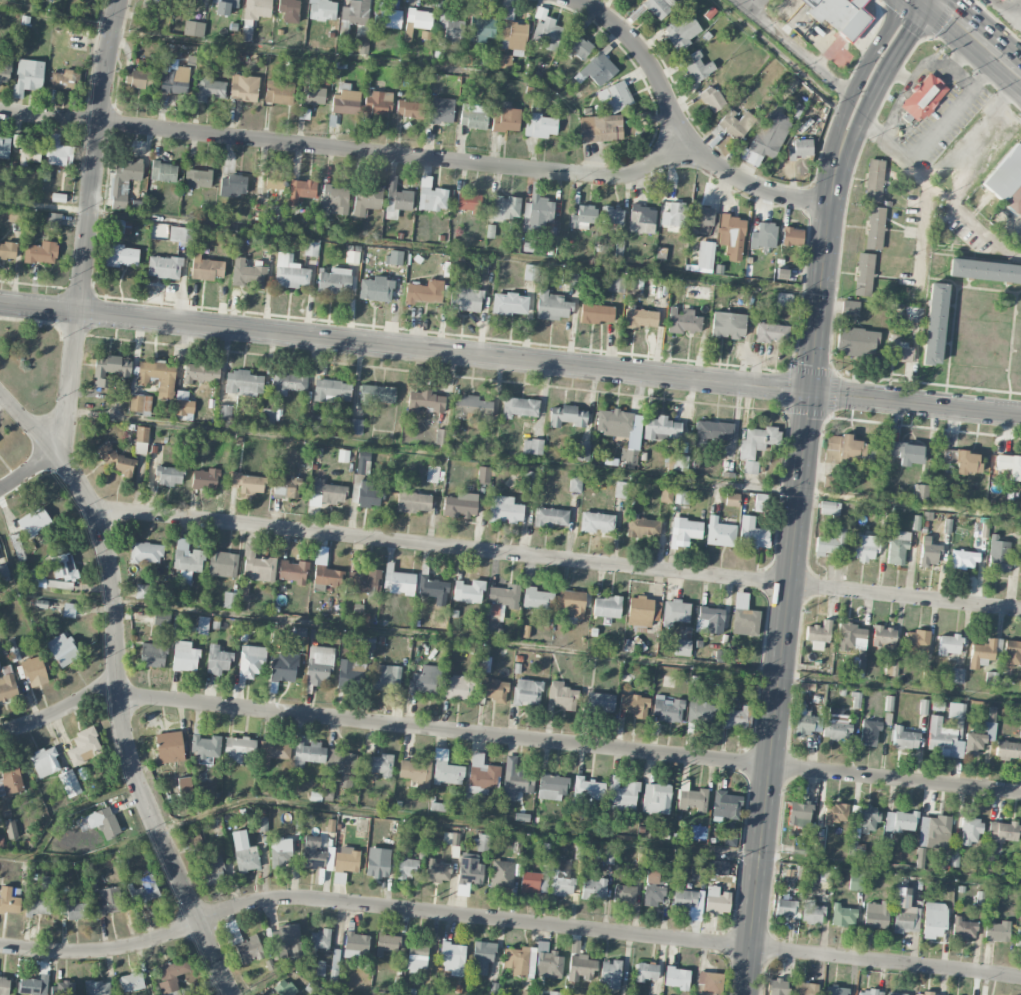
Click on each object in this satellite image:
building: (155, 0)
building: (186, 3)
road: (911, 3)
building: (224, 6)
building: (659, 7)
building: (257, 9)
building: (289, 10)
building: (322, 10)
building: (355, 13)
building: (839, 15)
building: (387, 19)
building: (417, 22)
building: (449, 24)
building: (193, 28)
building: (485, 29)
building: (246, 30)
building: (681, 30)
building: (512, 33)
building: (547, 34)
road: (979, 36)
building: (361, 39)
building: (578, 45)
road: (788, 48)
road: (900, 54)
road: (366, 59)
building: (504, 61)
building: (697, 67)
road: (955, 69)
building: (5, 70)
building: (596, 70)
road: (913, 74)
building: (28, 77)
building: (138, 78)
building: (63, 79)
building: (174, 80)
road: (857, 83)
building: (244, 88)
building: (208, 89)
building: (279, 93)
building: (314, 96)
building: (616, 96)
building: (924, 97)
building: (712, 99)
building: (345, 100)
building: (378, 103)
road: (895, 107)
road: (954, 108)
building: (409, 109)
building: (441, 110)
building: (505, 118)
building: (473, 120)
building: (736, 123)
building: (540, 125)
building: (601, 128)
road: (677, 132)
building: (770, 134)
road: (857, 138)
building: (4, 147)
building: (801, 149)
road: (344, 150)
building: (29, 152)
building: (58, 152)
building: (163, 172)
building: (198, 178)
building: (124, 179)
building: (275, 180)
building: (1007, 180)
building: (874, 181)
building: (233, 185)
building: (301, 190)
road: (940, 191)
building: (431, 196)
building: (334, 199)
building: (396, 199)
building: (366, 200)
building: (468, 201)
building: (505, 207)
building: (14, 215)
building: (537, 215)
building: (612, 215)
building: (674, 216)
building: (703, 216)
building: (582, 217)
building: (642, 219)
building: (53, 220)
road: (87, 223)
building: (120, 226)
building: (875, 228)
building: (180, 234)
building: (732, 236)
building: (764, 236)
building: (792, 236)
road: (410, 245)
building: (530, 247)
building: (619, 248)
building: (311, 249)
building: (8, 250)
building: (41, 253)
building: (705, 255)
building: (121, 256)
building: (352, 257)
building: (394, 258)
building: (164, 267)
building: (206, 268)
building: (984, 271)
building: (289, 272)
building: (530, 273)
building: (248, 274)
building: (781, 274)
building: (864, 275)
building: (334, 281)
building: (616, 284)
building: (375, 289)
building: (424, 292)
building: (465, 299)
building: (784, 300)
building: (509, 304)
building: (551, 306)
building: (850, 307)
building: (596, 314)
building: (912, 314)
building: (639, 319)
building: (683, 321)
building: (935, 324)
building: (728, 325)
building: (771, 333)
building: (857, 342)
building: (898, 350)
road: (510, 359)
building: (109, 370)
building: (201, 373)
building: (159, 377)
building: (243, 383)
building: (287, 383)
building: (331, 390)
traffic signals: (810, 392)
building: (376, 394)
building: (424, 402)
building: (140, 403)
building: (183, 406)
building: (471, 407)
building: (519, 407)
building: (224, 412)
building: (567, 416)
building: (267, 417)
building: (314, 423)
building: (614, 423)
building: (356, 427)
building: (662, 429)
building: (711, 432)
building: (442, 437)
building: (141, 440)
building: (757, 441)
building: (532, 446)
building: (849, 450)
building: (583, 453)
building: (905, 453)
building: (343, 455)
building: (628, 456)
building: (362, 461)
road: (543, 462)
building: (968, 462)
building: (1009, 466)
building: (750, 467)
building: (728, 468)
road: (30, 472)
building: (484, 475)
building: (169, 476)
building: (204, 479)
building: (527, 481)
building: (248, 483)
road: (77, 484)
building: (575, 484)
building: (286, 488)
building: (620, 490)
building: (921, 492)
building: (325, 493)
building: (368, 495)
building: (665, 495)
building: (681, 497)
building: (732, 500)
building: (413, 502)
building: (760, 503)
building: (460, 505)
building: (830, 508)
building: (504, 510)
building: (551, 517)
building: (34, 521)
building: (596, 522)
building: (643, 527)
building: (684, 532)
building: (720, 533)
building: (752, 534)
building: (830, 544)
building: (865, 547)
building: (897, 547)
building: (146, 553)
building: (929, 555)
building: (999, 555)
road: (558, 558)
building: (187, 560)
building: (963, 560)
building: (222, 564)
building: (63, 566)
building: (257, 566)
building: (4, 571)
building: (292, 572)
building: (326, 577)
building: (363, 581)
building: (398, 581)
building: (49, 583)
road: (788, 584)
building: (433, 588)
building: (146, 592)
building: (468, 592)
building: (503, 598)
building: (537, 599)
building: (229, 600)
building: (571, 603)
building: (606, 607)
building: (69, 610)
building: (640, 612)
building: (676, 612)
building: (744, 617)
building: (710, 620)
building: (202, 625)
building: (818, 635)
building: (883, 637)
road: (116, 638)
building: (365, 642)
building: (916, 643)
building: (853, 645)
building: (950, 645)
building: (682, 647)
road: (567, 649)
building: (62, 650)
building: (984, 652)
building: (1012, 653)
building: (152, 655)
building: (184, 657)
building: (218, 660)
building: (250, 661)
building: (319, 665)
building: (889, 668)
building: (281, 670)
building: (34, 672)
building: (351, 672)
building: (957, 675)
building: (387, 678)
building: (990, 679)
building: (424, 680)
building: (7, 684)
road: (119, 687)
building: (456, 687)
building: (807, 687)
building: (493, 690)
building: (527, 693)
building: (562, 696)
building: (600, 702)
building: (633, 705)
road: (60, 706)
building: (667, 709)
building: (956, 711)
building: (701, 714)
building: (736, 718)
building: (806, 723)
building: (836, 725)
building: (869, 732)
building: (904, 739)
building: (943, 739)
building: (979, 739)
road: (570, 743)
building: (84, 746)
building: (169, 747)
building: (206, 748)
building: (239, 750)
building: (1008, 750)
building: (272, 752)
building: (308, 754)
building: (45, 762)
building: (378, 764)
building: (341, 765)
building: (446, 769)
building: (416, 773)
building: (482, 773)
building: (515, 779)
building: (10, 780)
building: (69, 783)
building: (184, 785)
building: (552, 786)
building: (589, 789)
building: (328, 791)
building: (622, 794)
building: (656, 799)
building: (692, 799)
building: (725, 806)
building: (835, 813)
building: (799, 814)
building: (863, 820)
building: (900, 821)
building: (104, 822)
road: (505, 826)
building: (11, 829)
building: (971, 830)
building: (934, 832)
building: (1002, 832)
building: (450, 839)
building: (1, 841)
building: (817, 844)
building: (483, 847)
road: (166, 849)
building: (280, 851)
building: (886, 851)
building: (312, 853)
building: (609, 856)
building: (246, 859)
building: (347, 860)
building: (377, 867)
building: (407, 867)
building: (1020, 867)
building: (718, 868)
building: (212, 871)
building: (437, 871)
building: (697, 873)
building: (468, 874)
building: (502, 874)
building: (561, 878)
building: (530, 882)
building: (856, 882)
building: (543, 883)
building: (654, 888)
building: (593, 889)
building: (144, 890)
building: (624, 894)
building: (685, 898)
building: (716, 900)
building: (8, 901)
building: (108, 901)
building: (785, 909)
building: (72, 910)
building: (812, 913)
building: (905, 913)
building: (876, 915)
building: (843, 916)
road: (507, 920)
building: (934, 920)
building: (964, 929)
building: (996, 932)
building: (1018, 936)
building: (285, 938)
building: (320, 939)
building: (387, 943)
building: (356, 945)
building: (245, 947)
building: (417, 954)
building: (482, 957)
building: (453, 958)
building: (519, 960)
building: (548, 963)
building: (579, 964)
road: (297, 970)
building: (646, 972)
building: (610, 975)
building: (172, 976)
building: (676, 978)
building: (131, 982)
building: (709, 983)
building: (4, 985)
building: (34, 985)
building: (778, 987)
building: (97, 988)
building: (283, 988)
building: (804, 988)
building: (62, 989)
building: (835, 990)
building: (867, 992)
building: (554, 993)
building: (898, 994)
building: (926, 994)

